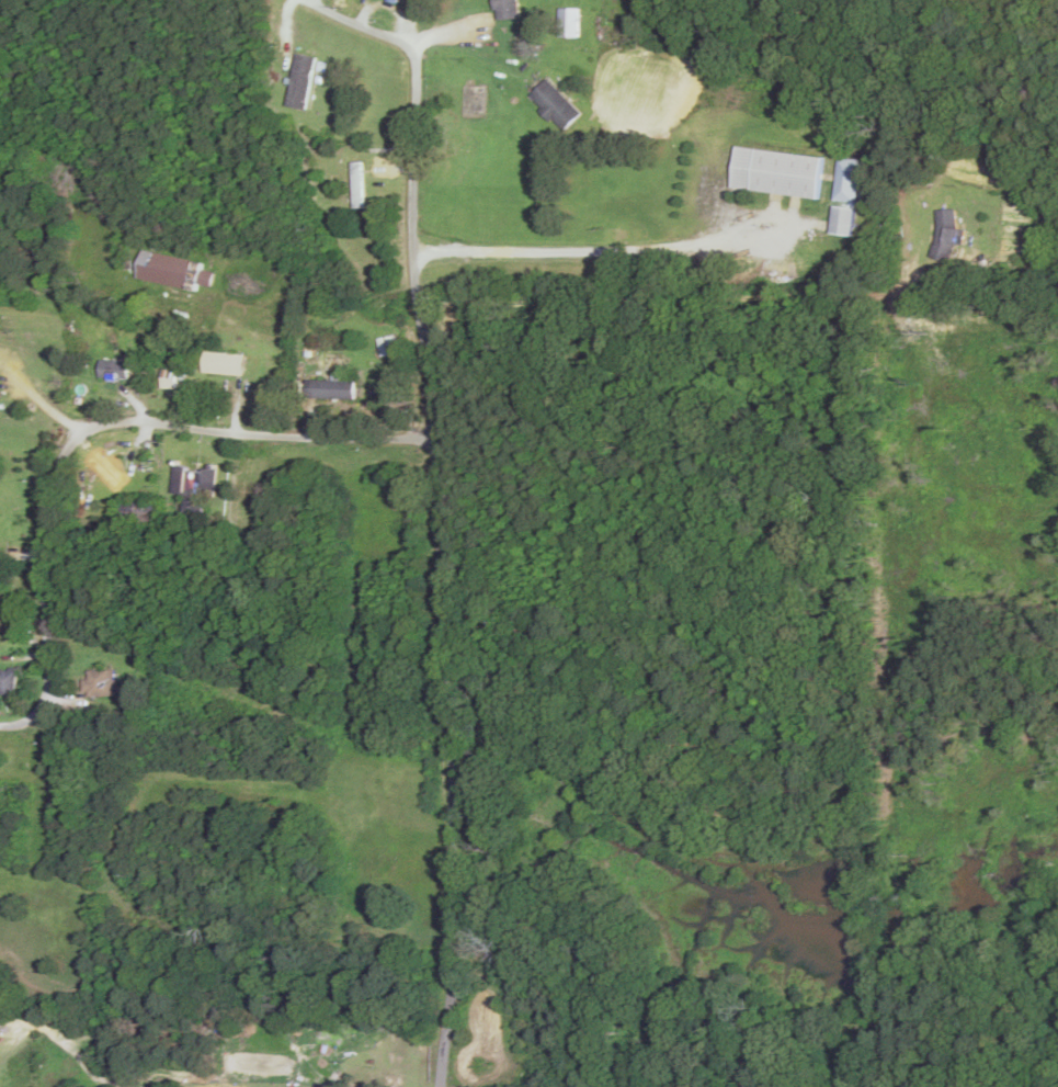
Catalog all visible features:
building: (391, 1)
building: (505, 10)
building: (569, 23)
building: (300, 82)
building: (555, 105)
building: (777, 173)
building: (846, 182)
building: (842, 223)
building: (947, 236)
building: (387, 347)
building: (224, 364)
building: (114, 371)
building: (330, 390)
road: (551, 405)
road: (93, 441)
building: (192, 483)
road: (474, 543)
building: (8, 681)
building: (99, 684)

